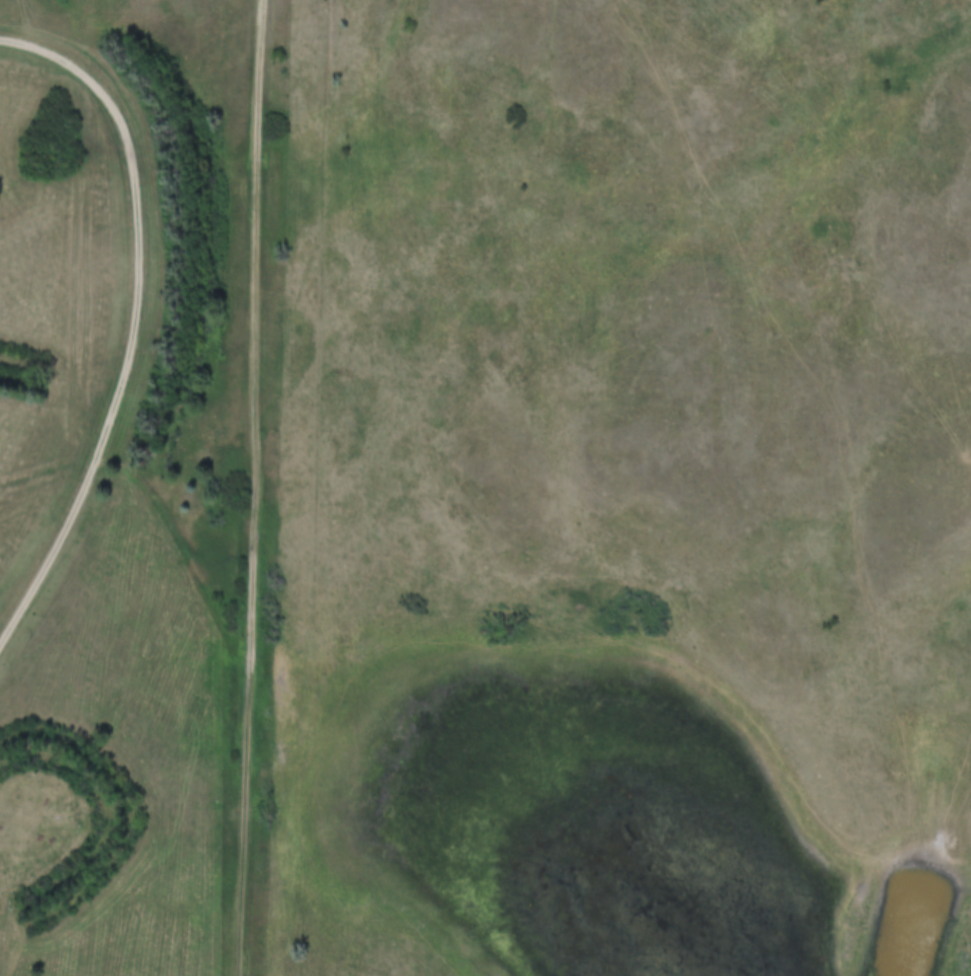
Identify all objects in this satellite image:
road: (134, 324)
road: (253, 487)
building: (38, 832)

